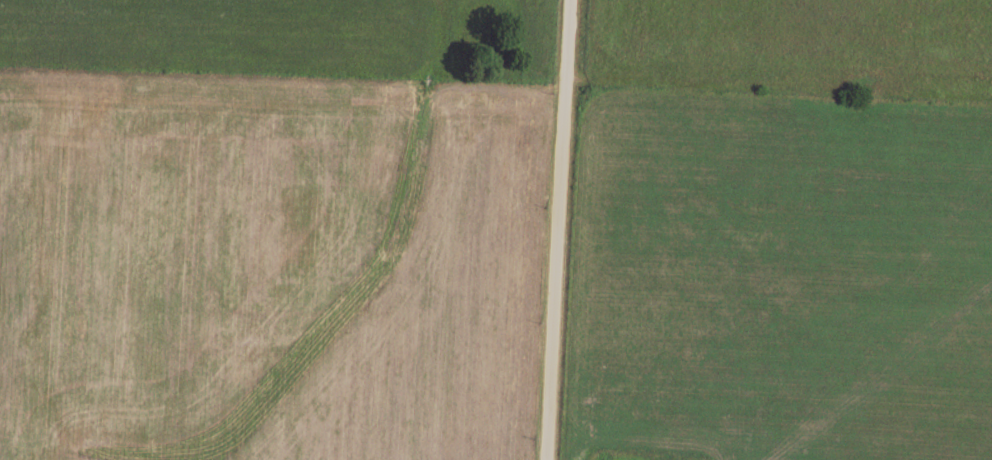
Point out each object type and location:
road: (556, 229)

